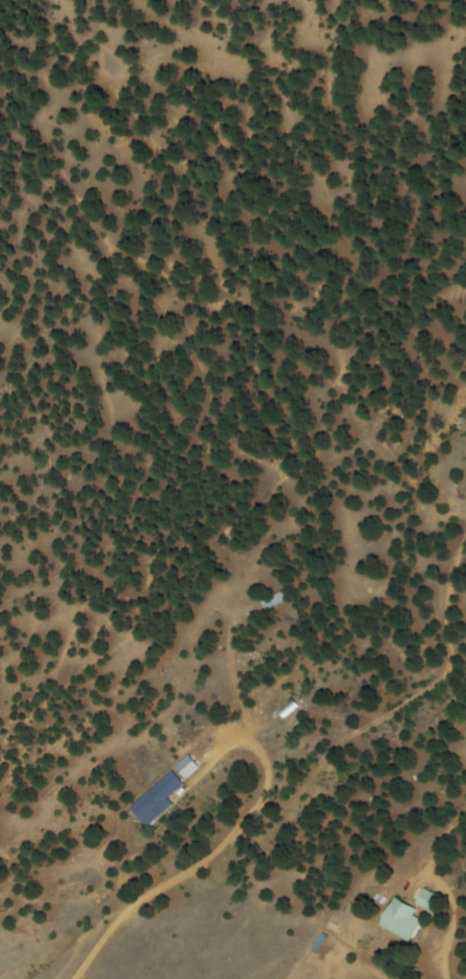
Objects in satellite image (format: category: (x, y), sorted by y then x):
building: (272, 600)
building: (184, 768)
building: (154, 799)
building: (426, 901)
building: (398, 920)

